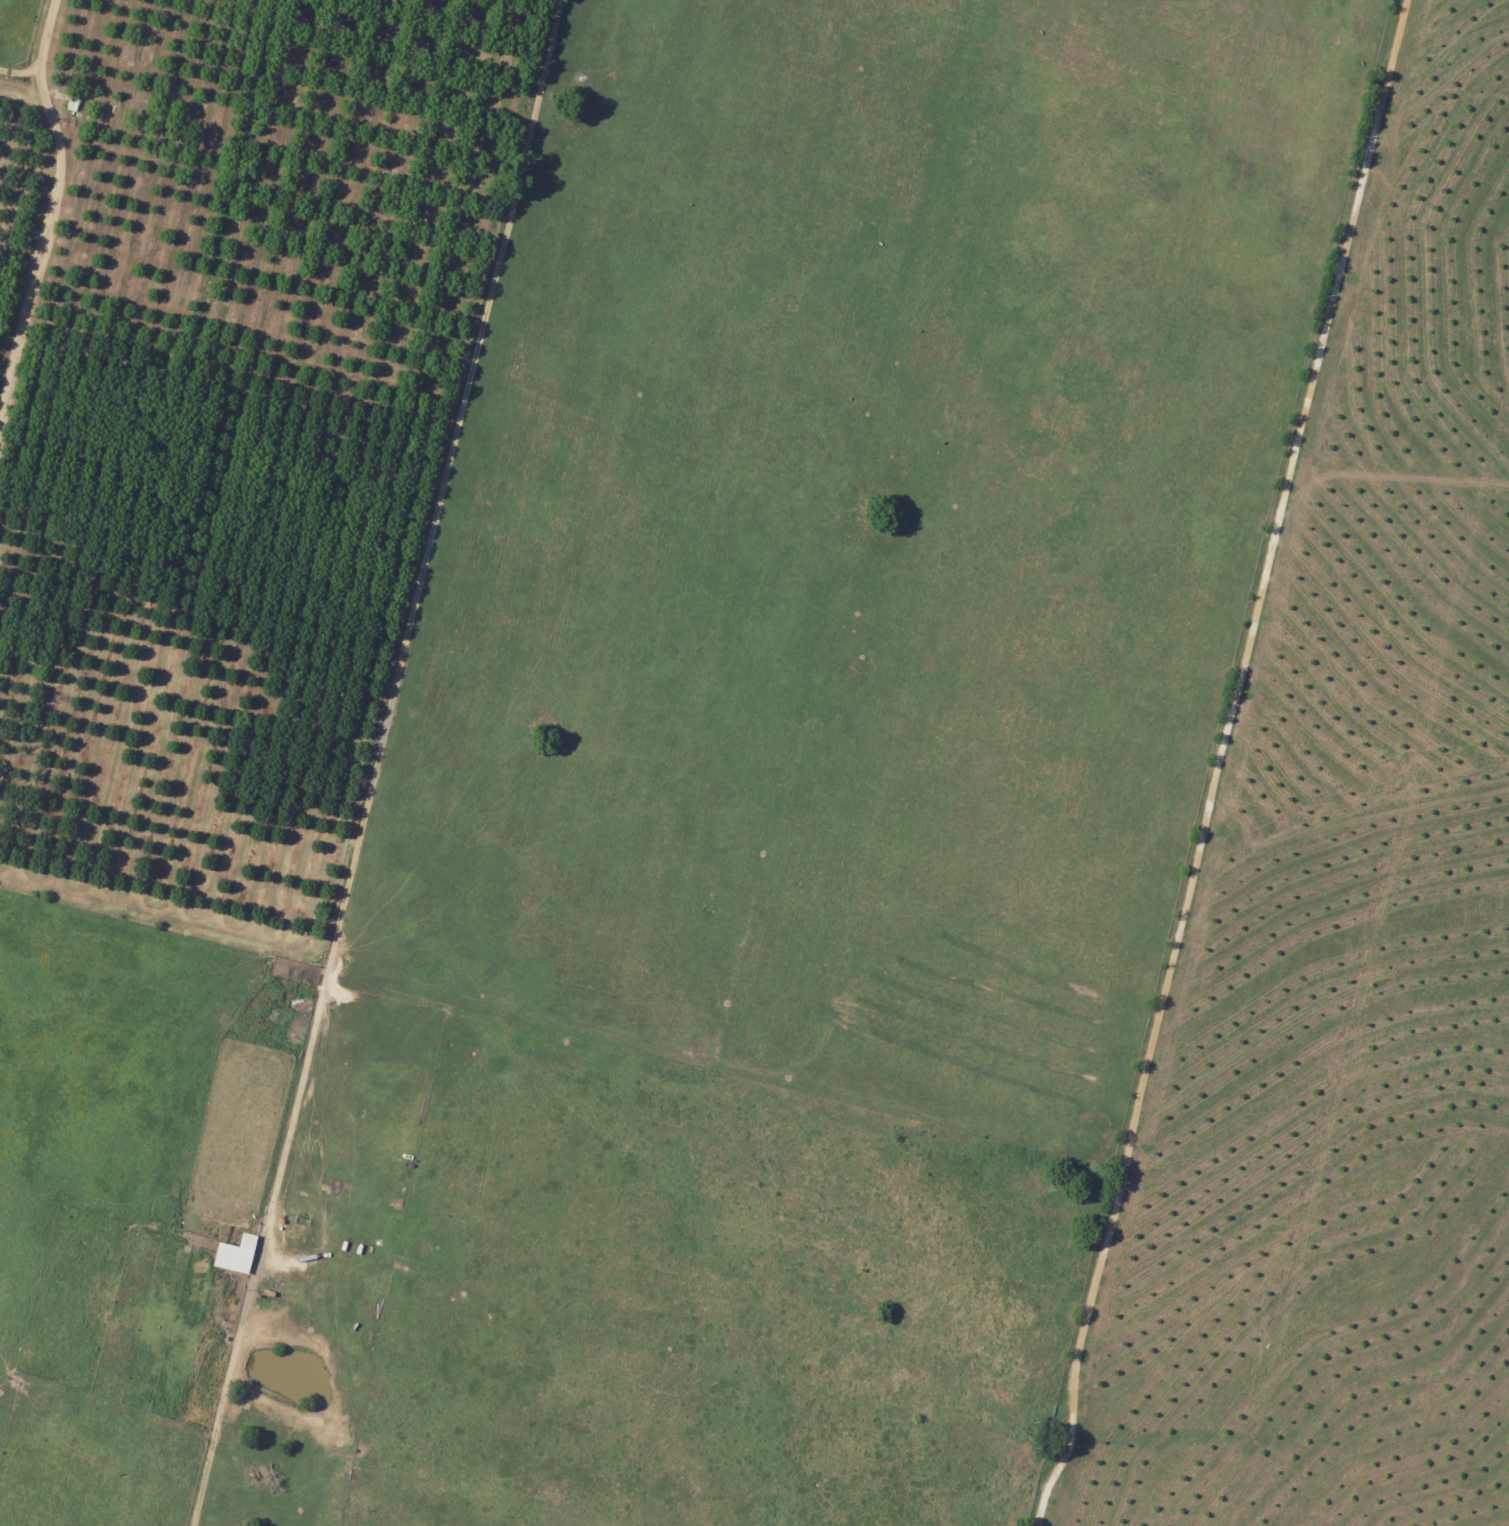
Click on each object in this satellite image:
road: (23, 97)
road: (55, 219)
road: (380, 763)
road: (1220, 764)
building: (236, 1254)

